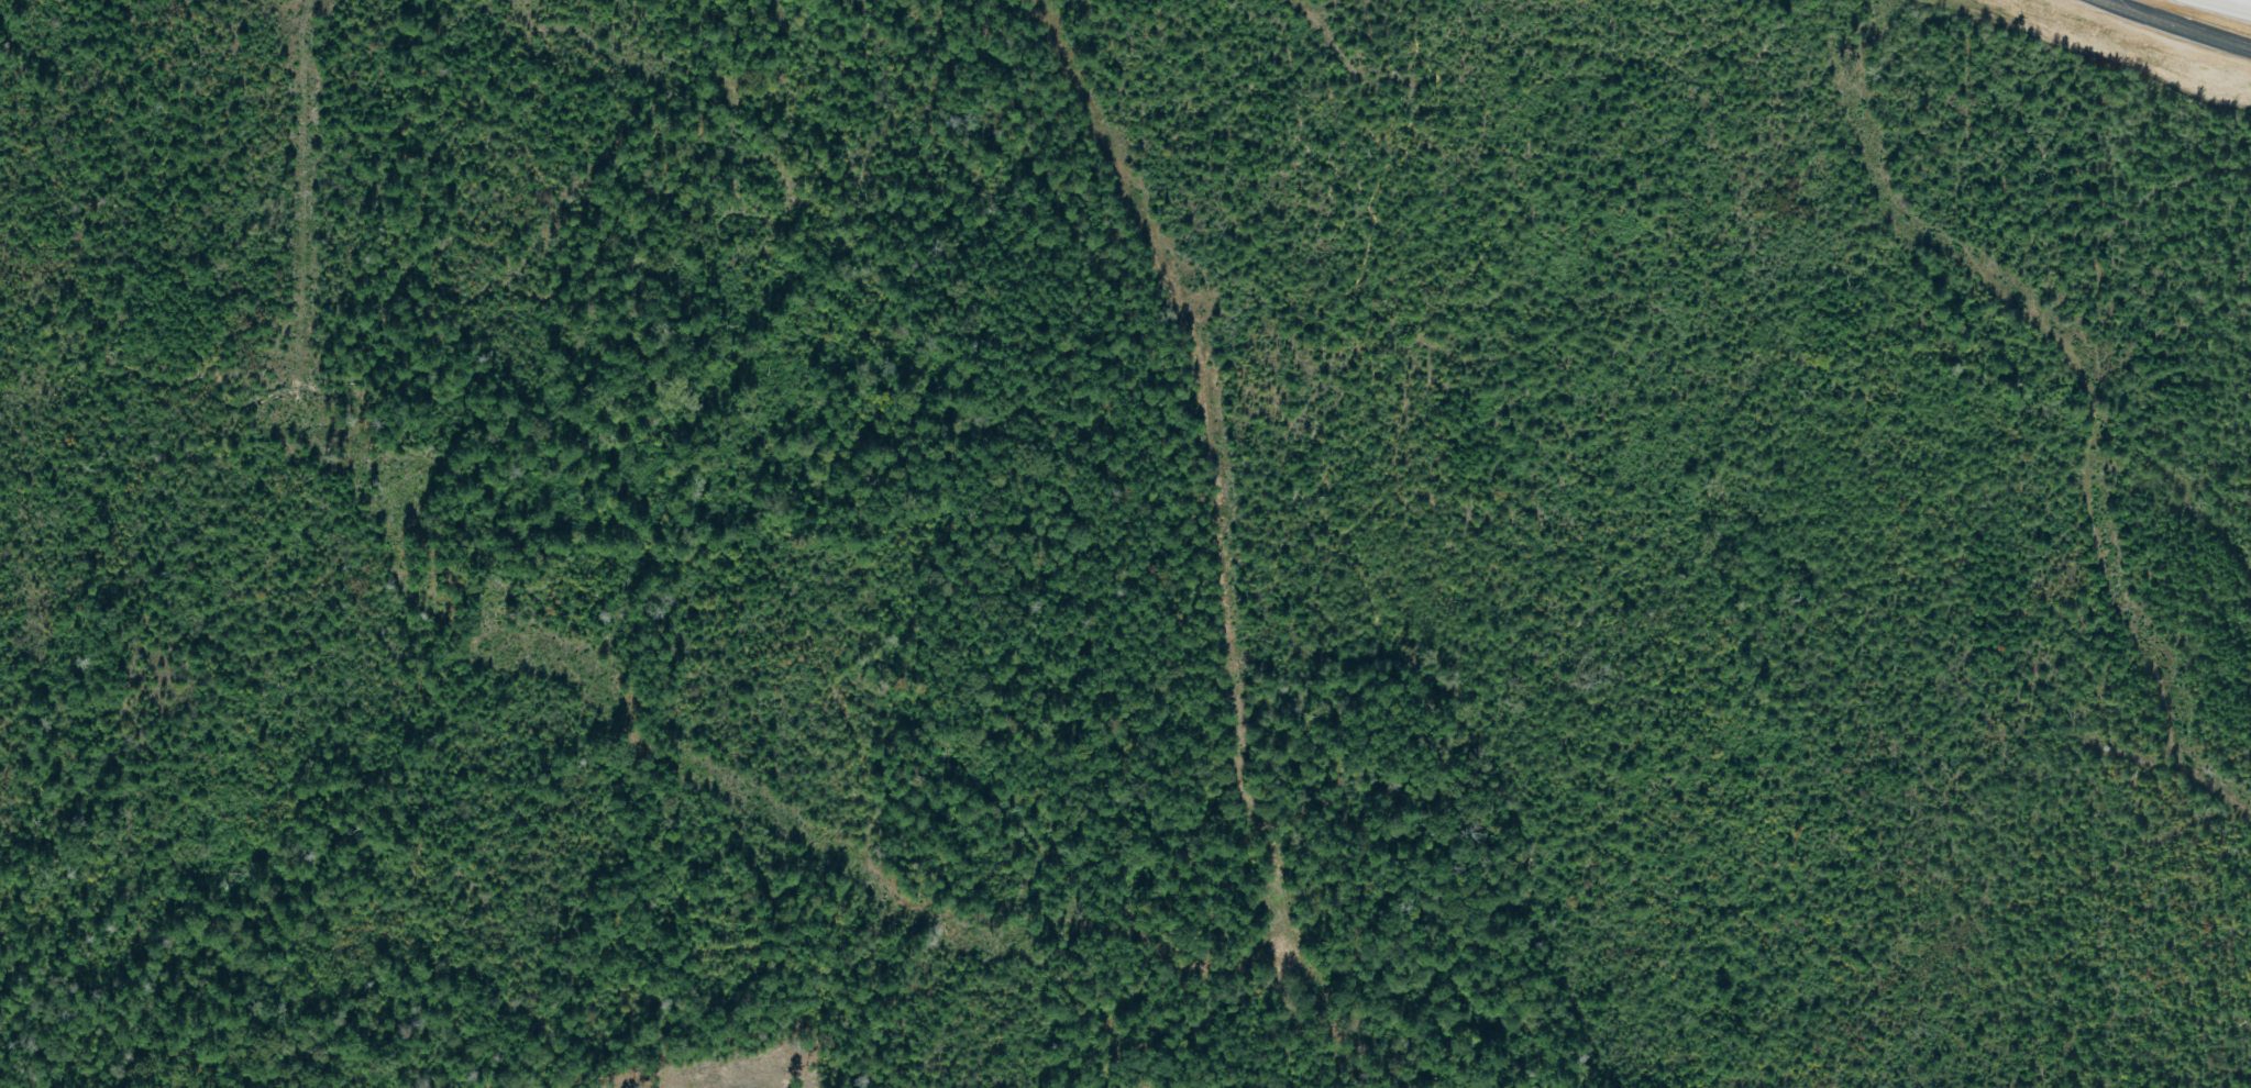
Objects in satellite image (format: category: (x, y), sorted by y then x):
road: (2238, 2)
road: (2176, 26)

